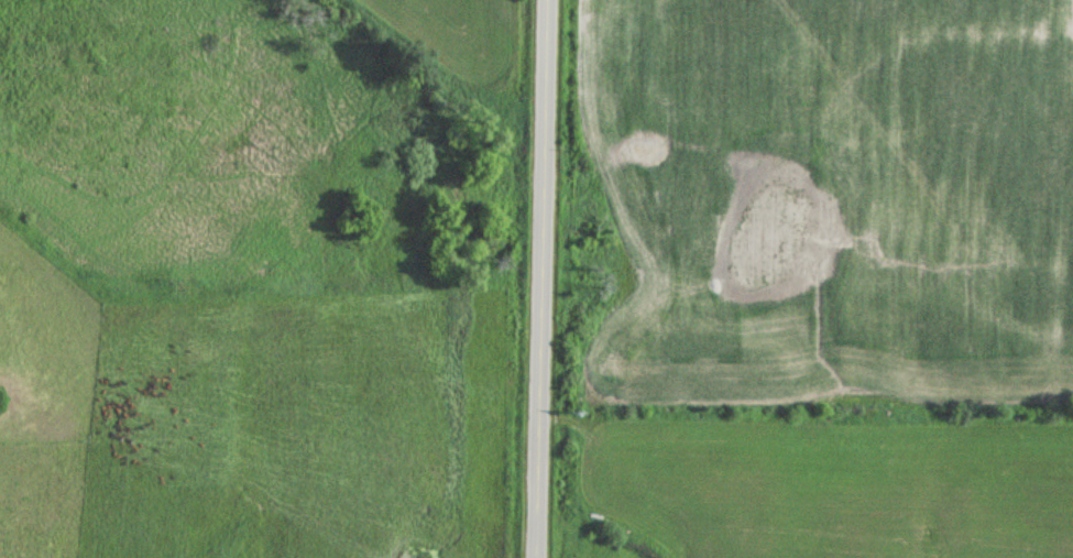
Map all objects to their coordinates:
road: (540, 278)

